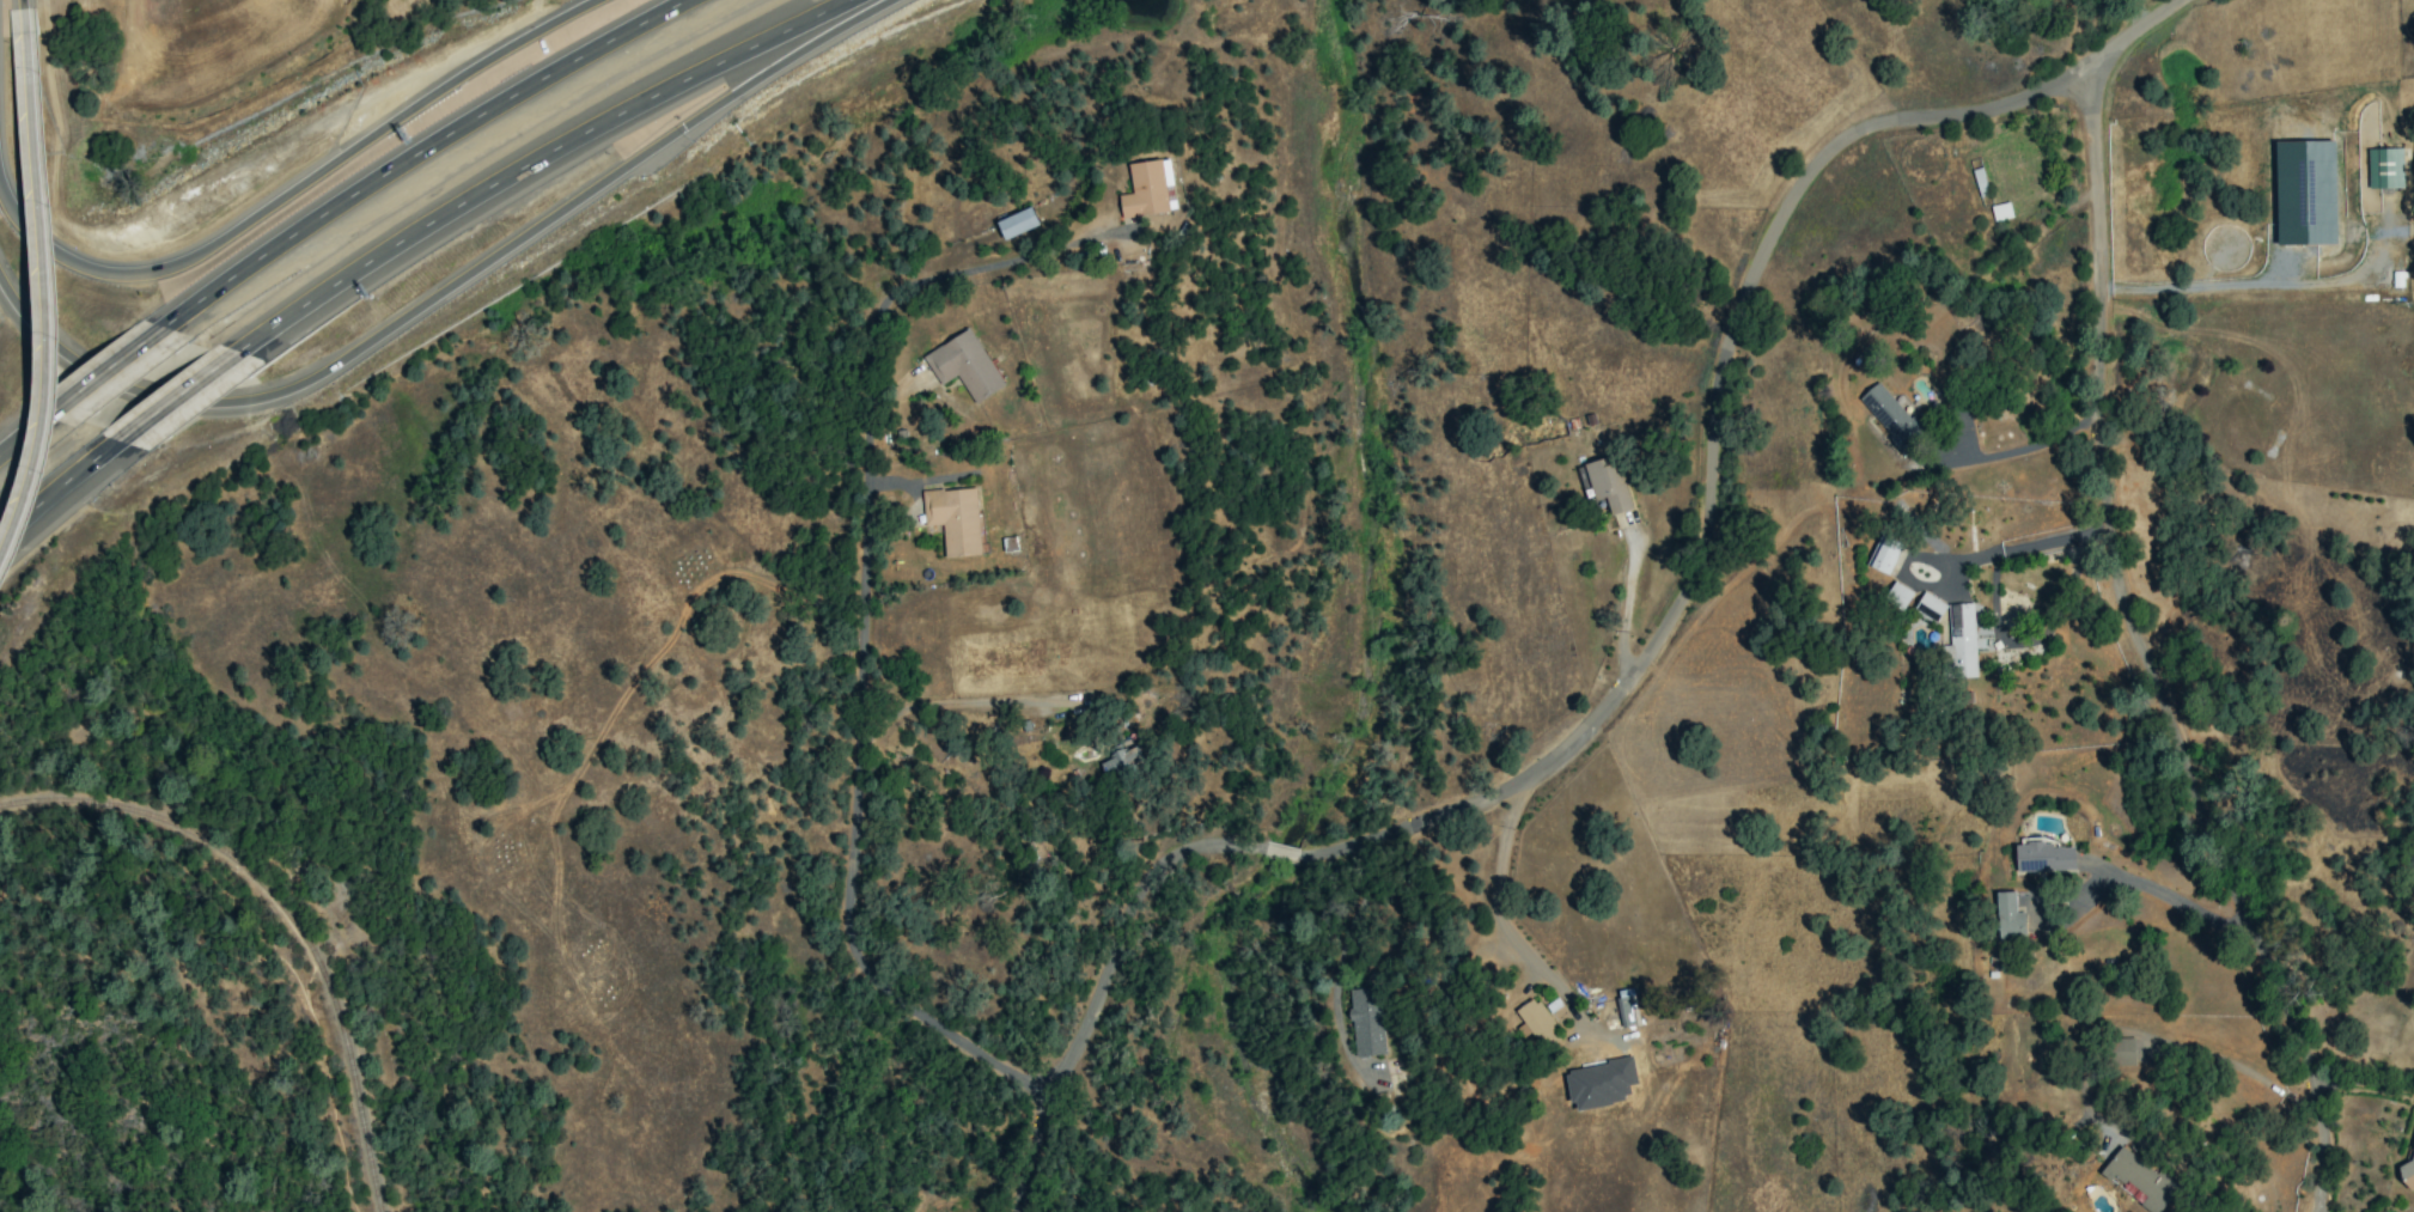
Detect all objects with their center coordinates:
road: (22, 16)
road: (426, 154)
building: (2384, 168)
road: (541, 169)
road: (294, 189)
building: (2306, 193)
building: (2000, 212)
building: (1017, 223)
road: (990, 267)
road: (2256, 286)
road: (450, 293)
road: (54, 303)
building: (964, 365)
road: (117, 373)
road: (179, 406)
building: (1890, 416)
road: (33, 437)
road: (2024, 449)
building: (1604, 483)
road: (56, 493)
building: (955, 519)
road: (2012, 548)
building: (1884, 554)
building: (1898, 595)
building: (1928, 607)
building: (1962, 639)
road: (1648, 653)
road: (2142, 654)
road: (860, 738)
building: (1123, 763)
park: (153, 852)
building: (2042, 857)
road: (2180, 905)
railway: (280, 913)
building: (2008, 919)
road: (1504, 933)
building: (1624, 1009)
building: (1366, 1022)
building: (1537, 1023)
road: (2166, 1043)
building: (2136, 1050)
building: (2121, 1052)
building: (2407, 1173)
building: (2140, 1180)

